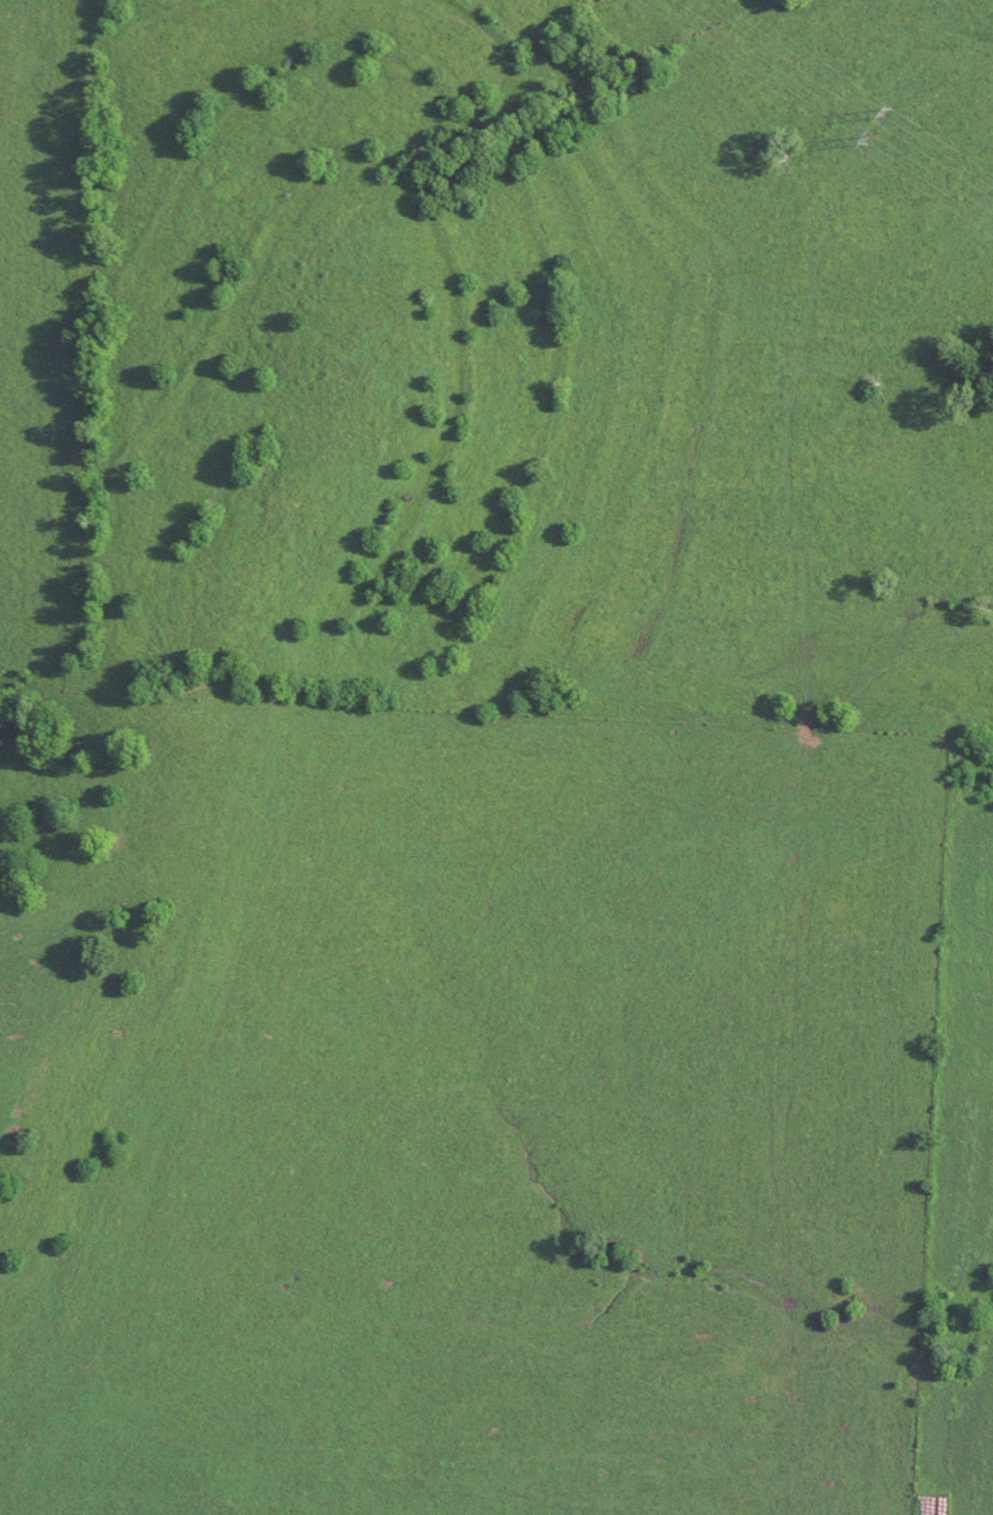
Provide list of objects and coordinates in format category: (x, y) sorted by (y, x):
power tower: (882, 115)
power tower: (862, 139)

